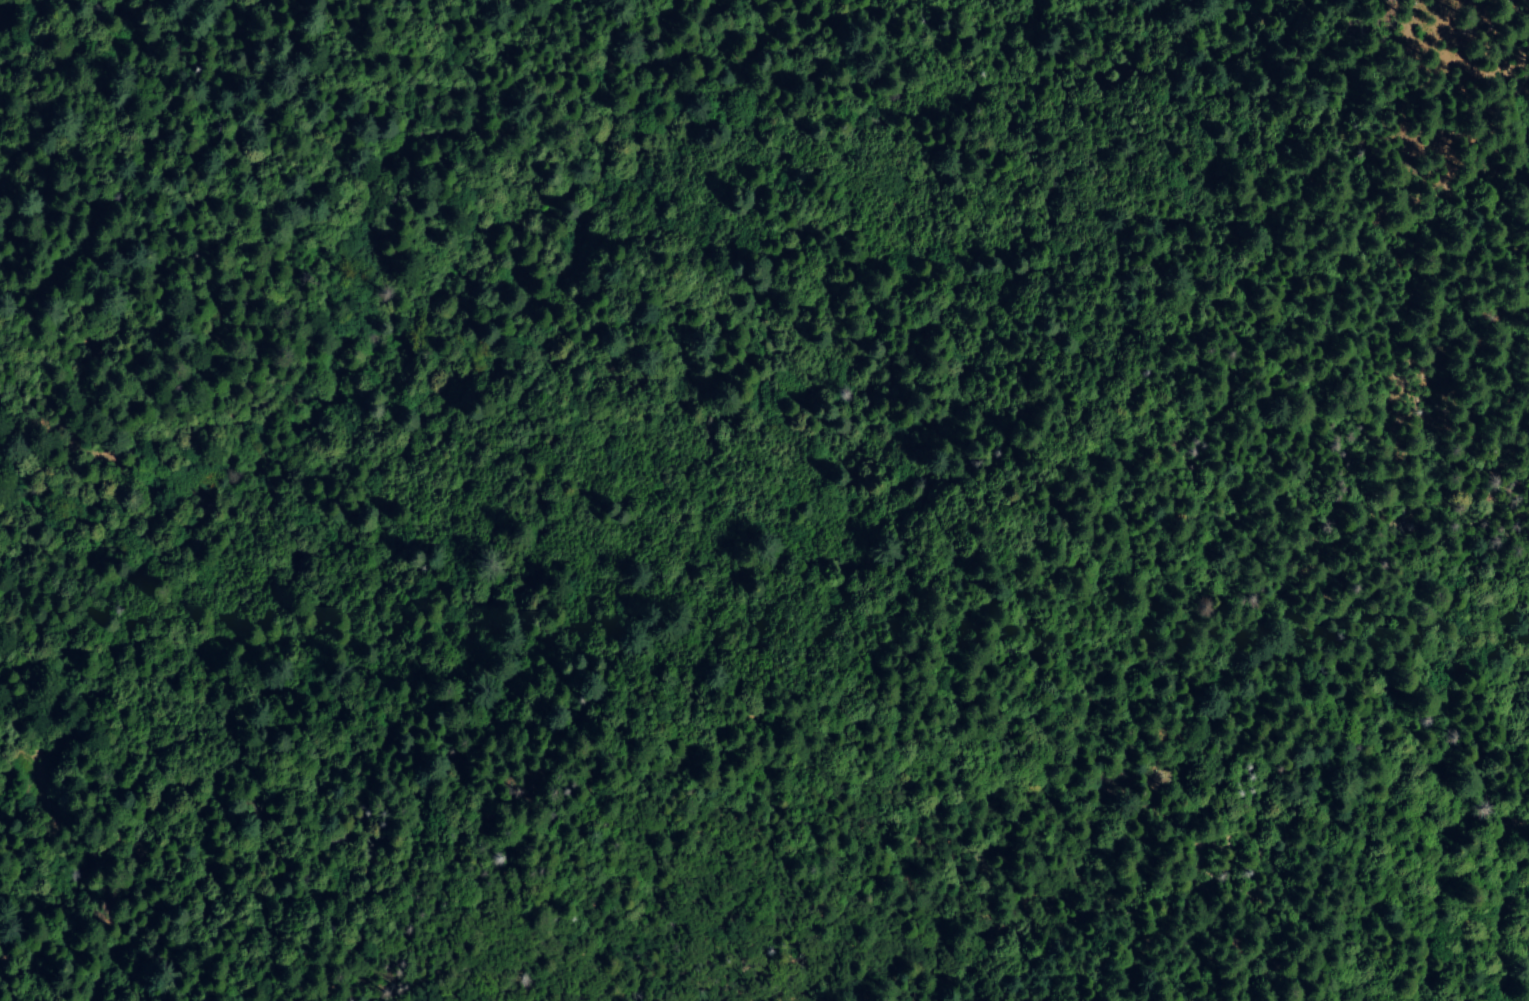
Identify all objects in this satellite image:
road: (1511, 923)

